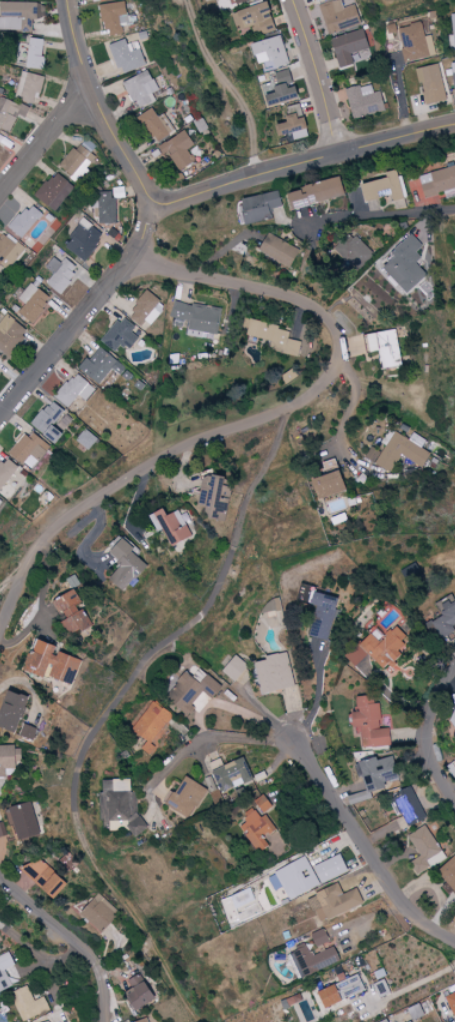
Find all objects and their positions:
building: (316, 0)
building: (234, 1)
building: (18, 15)
building: (247, 16)
building: (113, 17)
building: (337, 17)
building: (262, 27)
building: (454, 28)
building: (416, 43)
building: (348, 47)
building: (266, 53)
building: (33, 54)
building: (127, 56)
road: (315, 74)
building: (453, 76)
road: (227, 84)
building: (430, 84)
building: (28, 88)
building: (139, 89)
building: (276, 89)
road: (402, 94)
building: (362, 101)
road: (99, 104)
building: (10, 113)
building: (289, 124)
building: (157, 126)
building: (0, 133)
road: (45, 141)
building: (177, 150)
road: (302, 159)
building: (77, 163)
building: (438, 181)
building: (381, 187)
building: (54, 191)
building: (285, 200)
building: (104, 207)
road: (375, 213)
building: (24, 221)
road: (144, 229)
building: (83, 240)
building: (277, 250)
building: (8, 251)
building: (352, 252)
building: (403, 265)
building: (59, 274)
building: (33, 303)
building: (145, 309)
building: (195, 317)
building: (10, 335)
building: (120, 335)
building: (274, 336)
road: (67, 337)
building: (385, 348)
building: (0, 360)
building: (100, 365)
building: (74, 389)
road: (316, 393)
road: (349, 416)
building: (47, 420)
building: (85, 439)
building: (29, 449)
building: (393, 454)
building: (6, 470)
building: (325, 484)
building: (209, 496)
building: (0, 502)
building: (171, 526)
building: (124, 565)
road: (26, 568)
building: (408, 574)
building: (71, 612)
building: (323, 618)
building: (443, 619)
building: (376, 648)
building: (47, 662)
building: (233, 668)
building: (272, 674)
building: (189, 691)
road: (318, 695)
road: (110, 709)
building: (11, 710)
building: (450, 717)
building: (369, 721)
building: (150, 726)
road: (425, 731)
building: (27, 732)
building: (9, 759)
building: (375, 772)
building: (230, 775)
road: (323, 781)
building: (184, 796)
building: (363, 796)
building: (118, 802)
building: (407, 806)
building: (21, 821)
building: (256, 824)
building: (0, 835)
building: (426, 846)
building: (419, 864)
building: (448, 873)
building: (303, 875)
building: (43, 877)
building: (332, 902)
building: (235, 906)
building: (97, 912)
building: (318, 938)
road: (70, 940)
road: (36, 950)
building: (313, 960)
building: (4, 977)
building: (380, 988)
building: (336, 991)
building: (136, 994)
building: (450, 1002)
building: (28, 1004)
building: (414, 1012)
building: (142, 1020)
building: (47, 1021)

